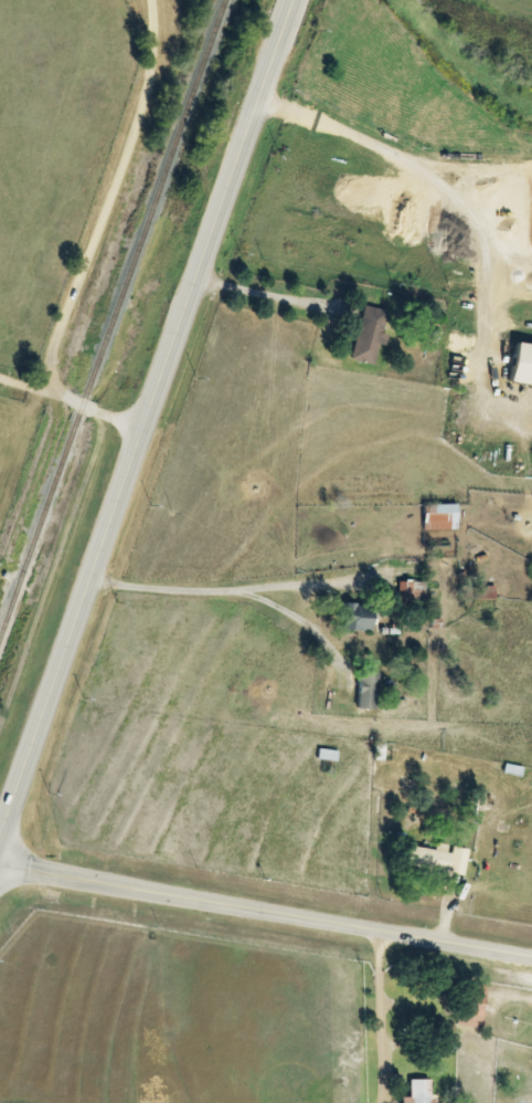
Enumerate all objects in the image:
road: (468, 189)
road: (96, 240)
railway: (110, 317)
building: (368, 336)
building: (520, 364)
road: (29, 368)
road: (143, 430)
building: (438, 516)
road: (240, 586)
building: (411, 590)
building: (354, 617)
building: (364, 690)
building: (458, 859)
road: (267, 905)
building: (472, 1005)
building: (417, 1091)

